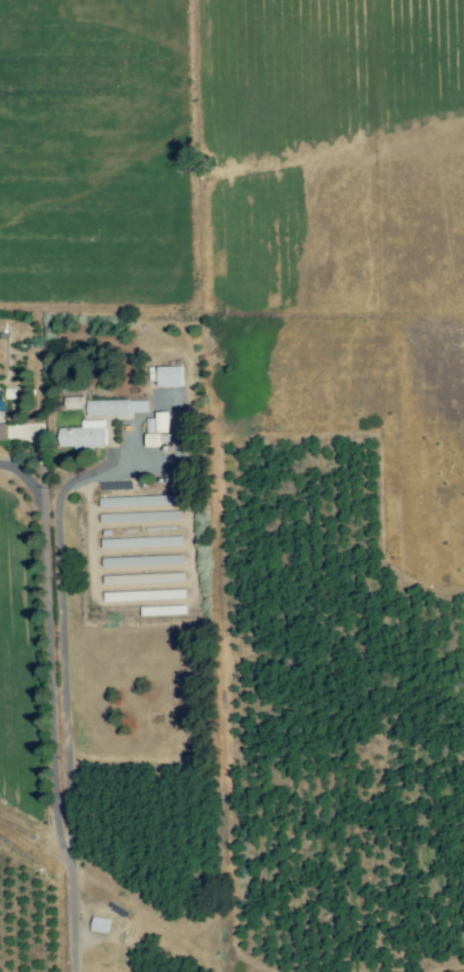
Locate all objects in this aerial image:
crop: (185, 122)
building: (170, 376)
building: (115, 407)
building: (3, 434)
building: (84, 435)
road: (60, 638)
road: (48, 663)
crop: (256, 759)
building: (100, 924)
road: (73, 927)

